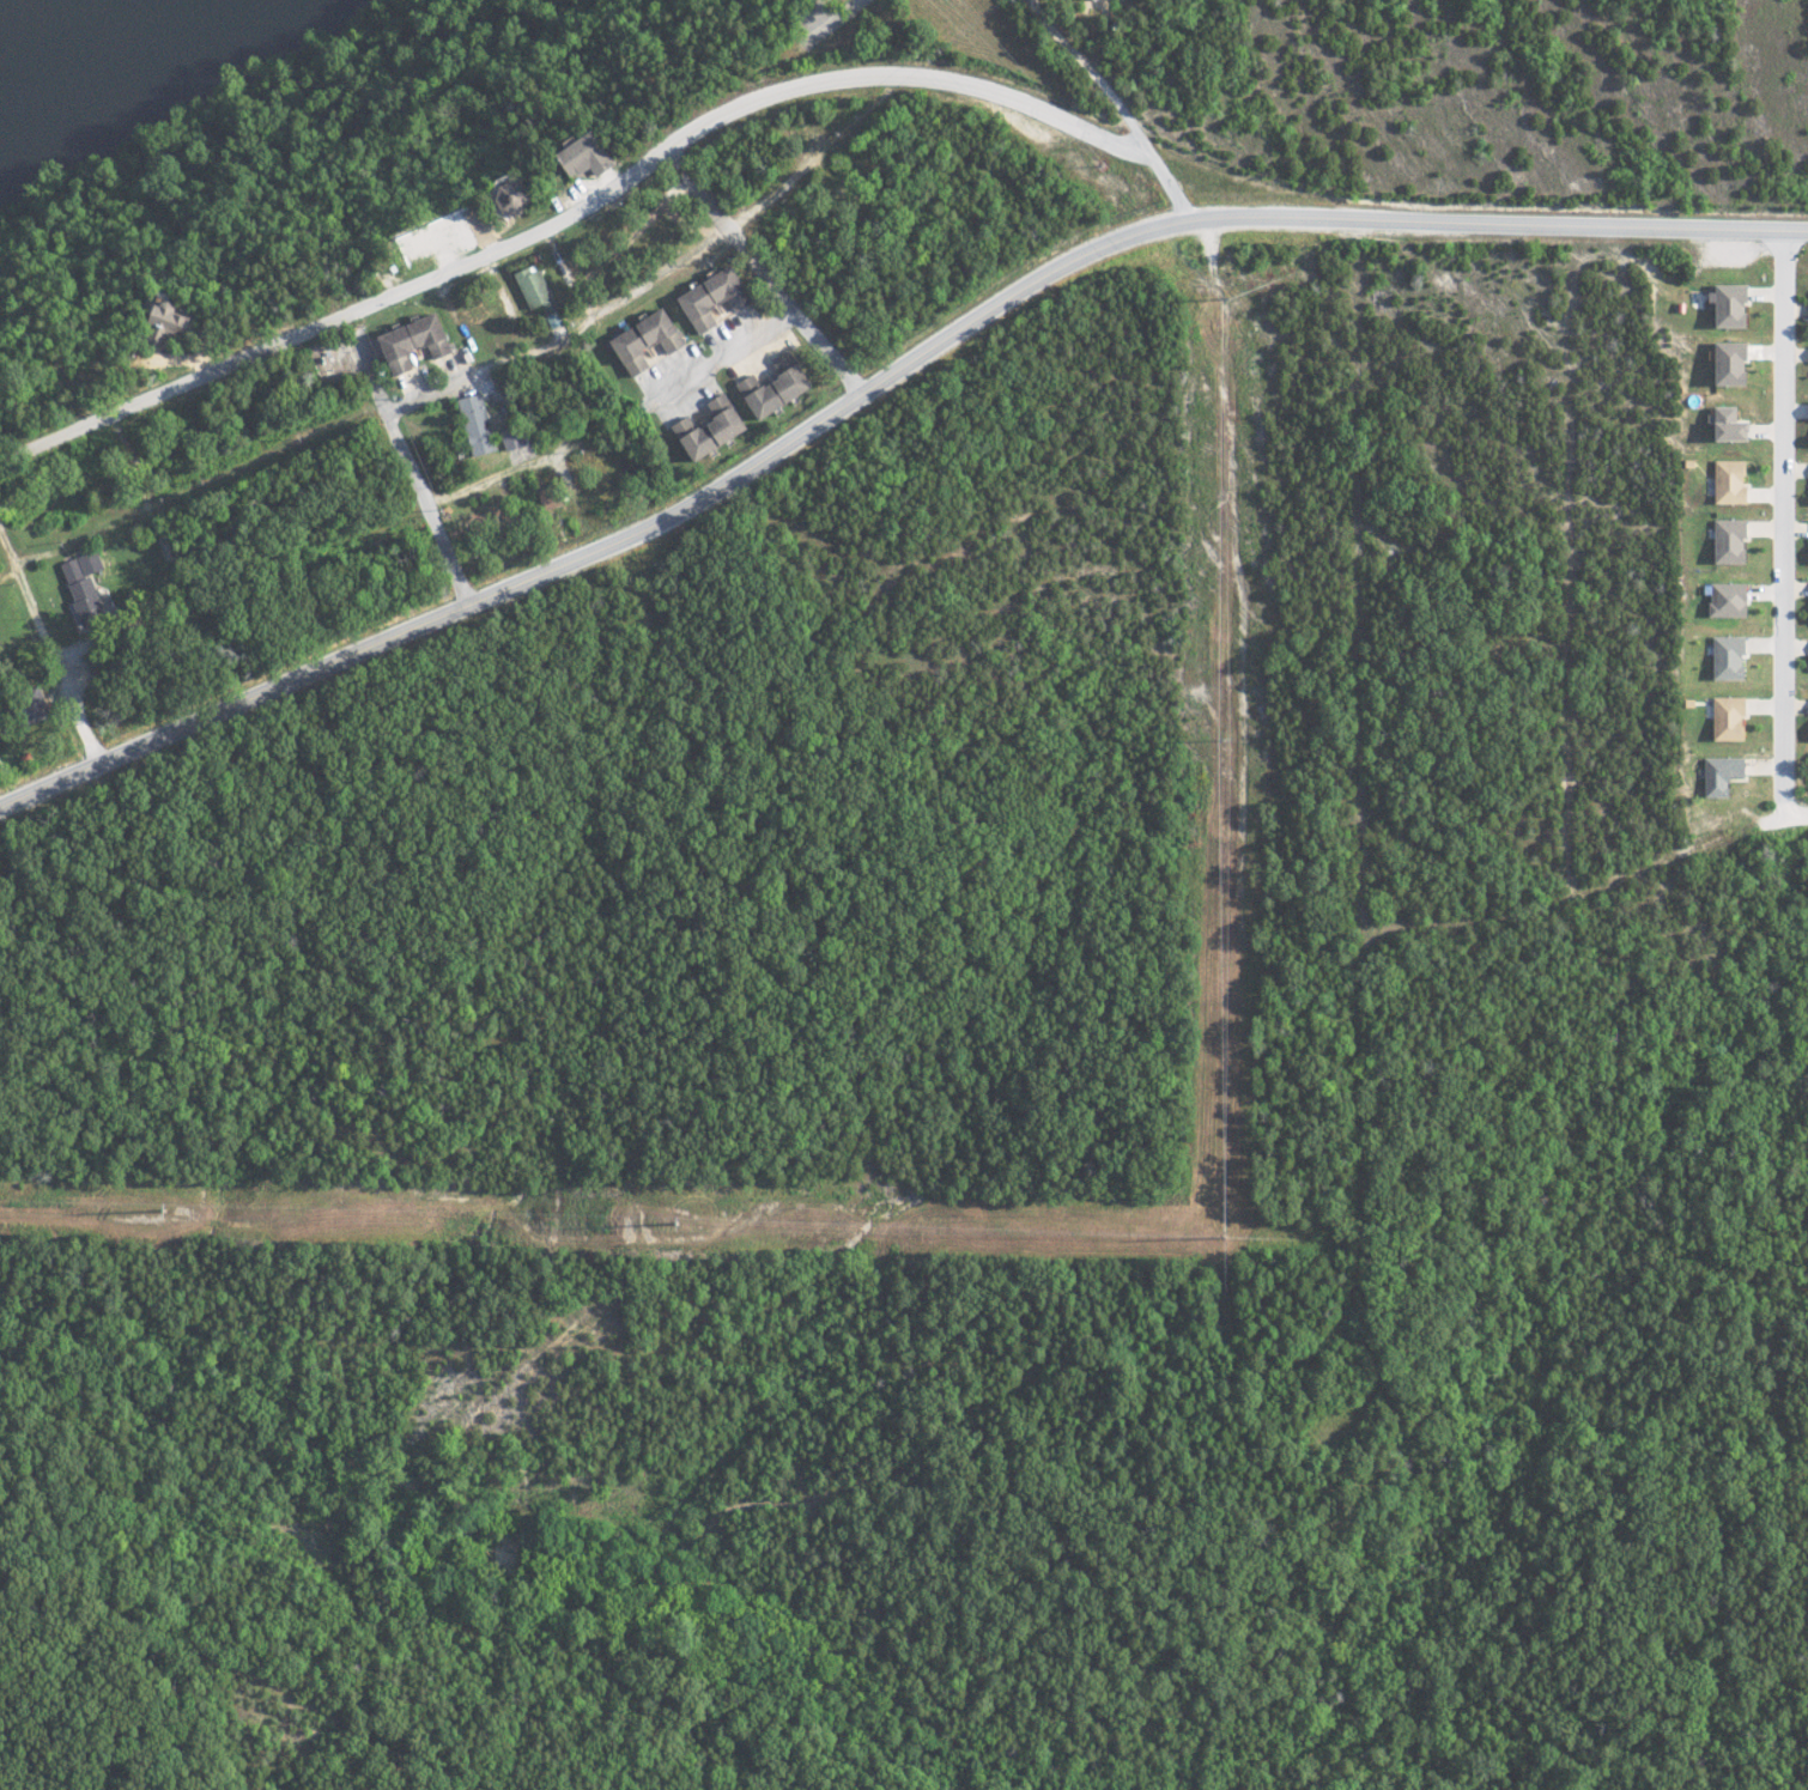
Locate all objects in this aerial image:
road: (824, 22)
river: (68, 36)
road: (1105, 67)
road: (886, 78)
building: (589, 154)
road: (694, 250)
building: (535, 289)
power tower: (1225, 296)
building: (715, 298)
building: (1722, 305)
building: (175, 317)
road: (777, 327)
building: (649, 340)
building: (418, 341)
road: (830, 356)
building: (1722, 365)
road: (479, 371)
building: (778, 386)
building: (1807, 412)
building: (480, 424)
building: (1719, 426)
building: (714, 427)
building: (514, 437)
road: (408, 469)
building: (1725, 481)
road: (129, 517)
road: (1786, 526)
building: (1725, 540)
road: (608, 544)
road: (447, 554)
building: (87, 590)
building: (1723, 599)
road: (38, 615)
building: (1723, 657)
building: (1723, 717)
power tower: (1225, 738)
building: (1717, 773)
power tower: (163, 1212)
power tower: (673, 1224)
power tower: (1225, 1237)

